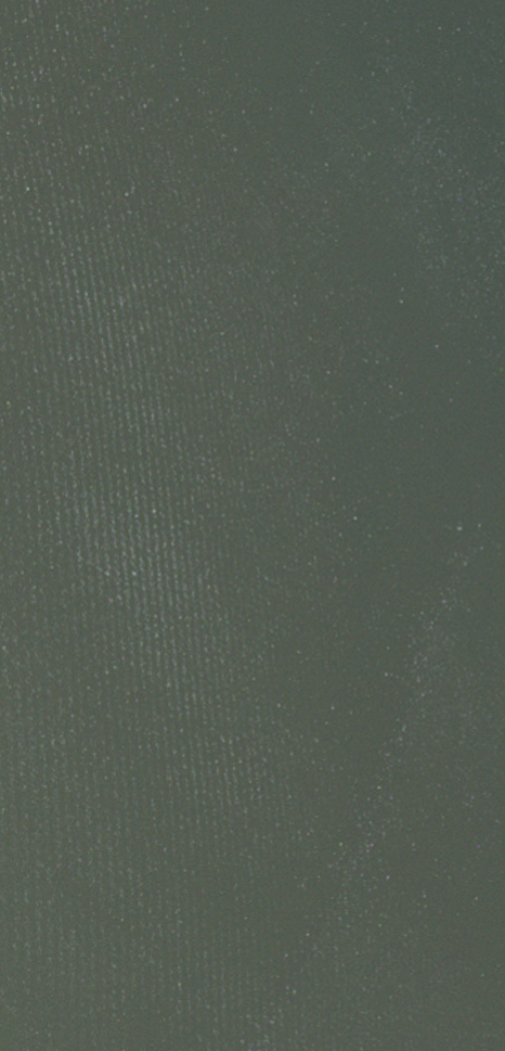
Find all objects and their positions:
river: (134, 722)

